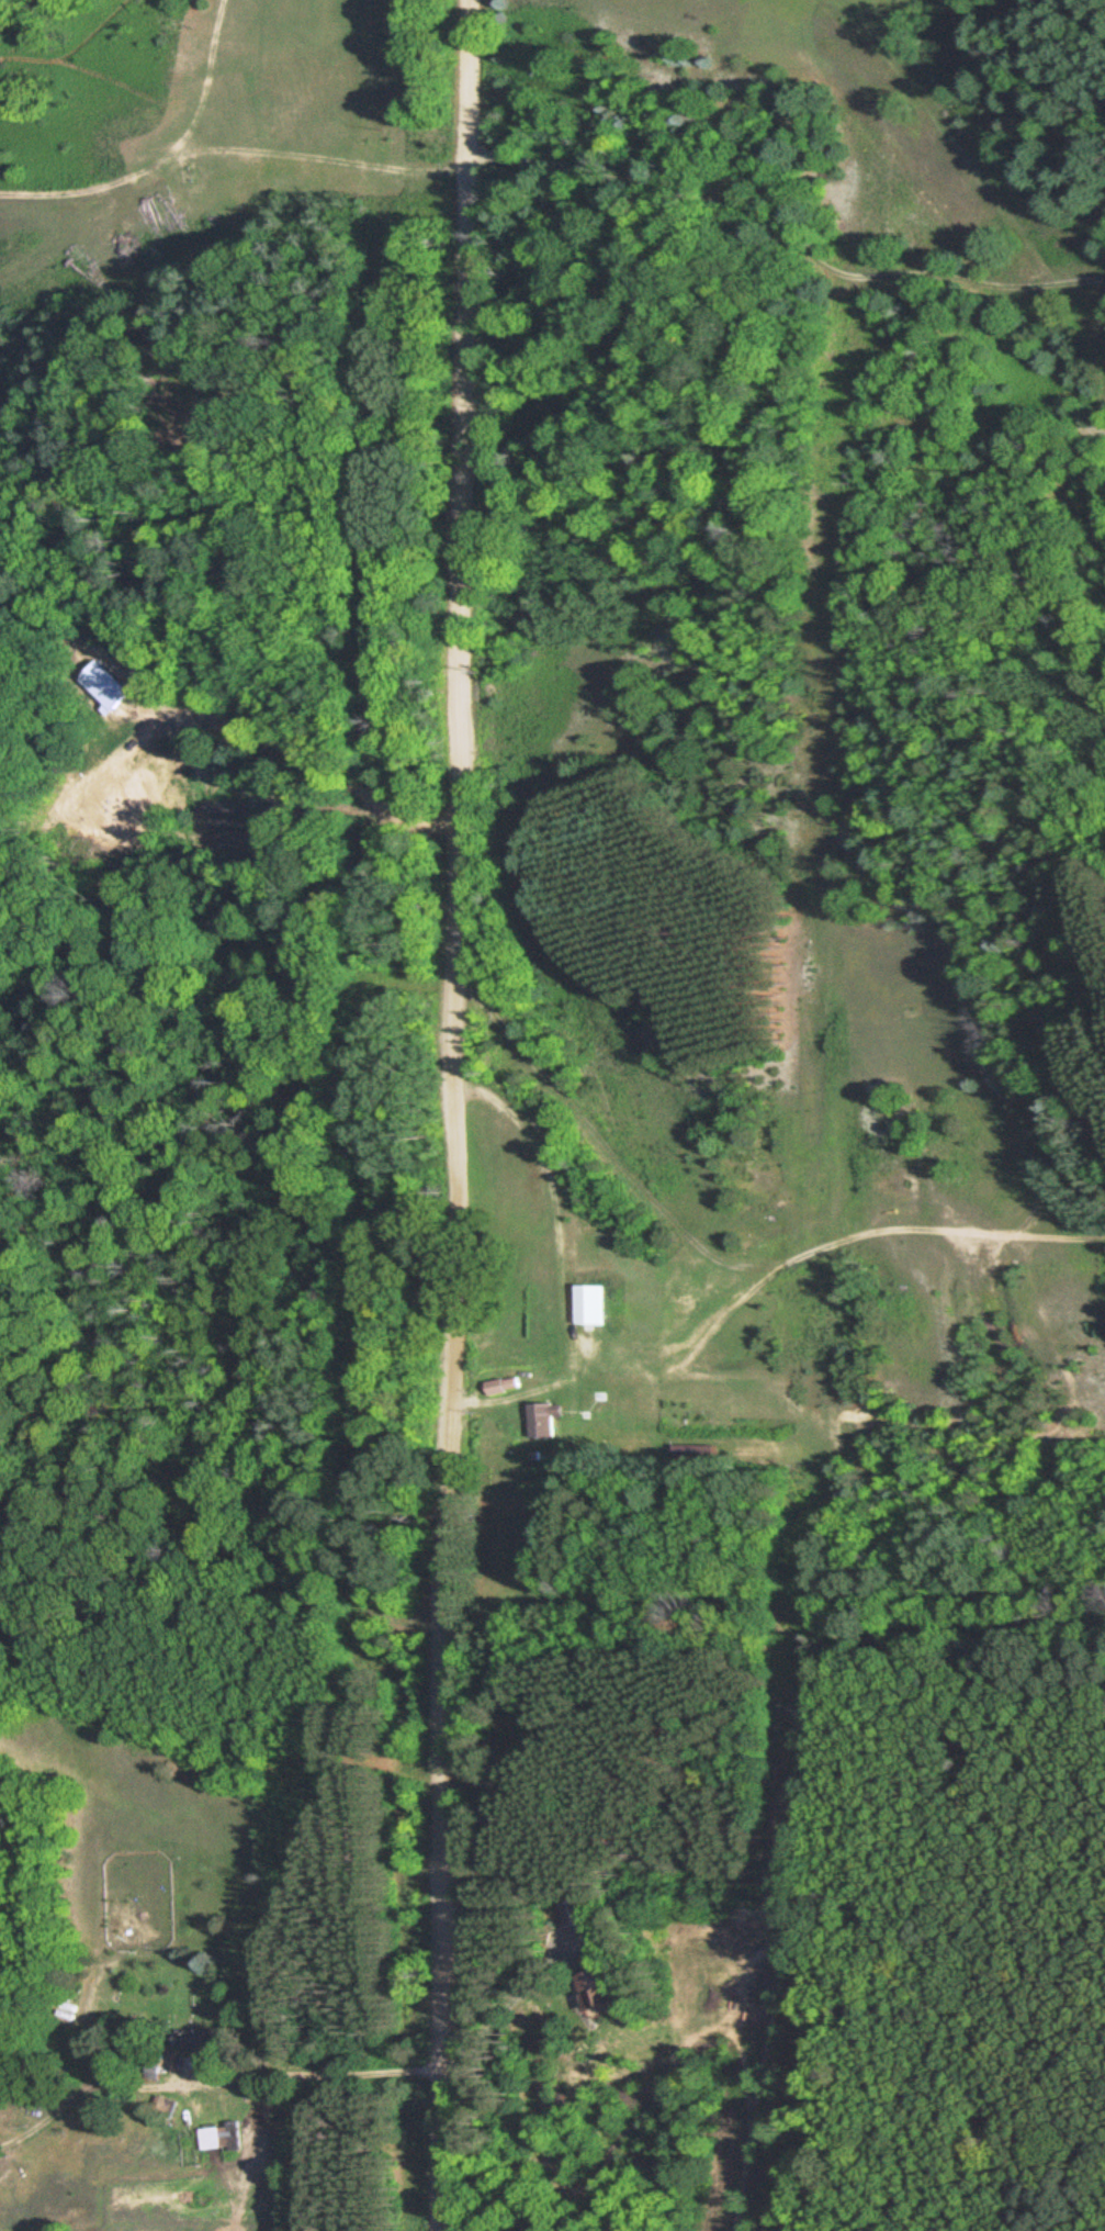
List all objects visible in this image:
road: (455, 1115)
building: (594, 1305)
building: (505, 1386)
building: (608, 1404)
building: (546, 1420)
building: (579, 1913)
building: (607, 1983)
building: (201, 2039)
road: (255, 2071)
building: (168, 2103)
building: (237, 2135)
building: (215, 2138)

